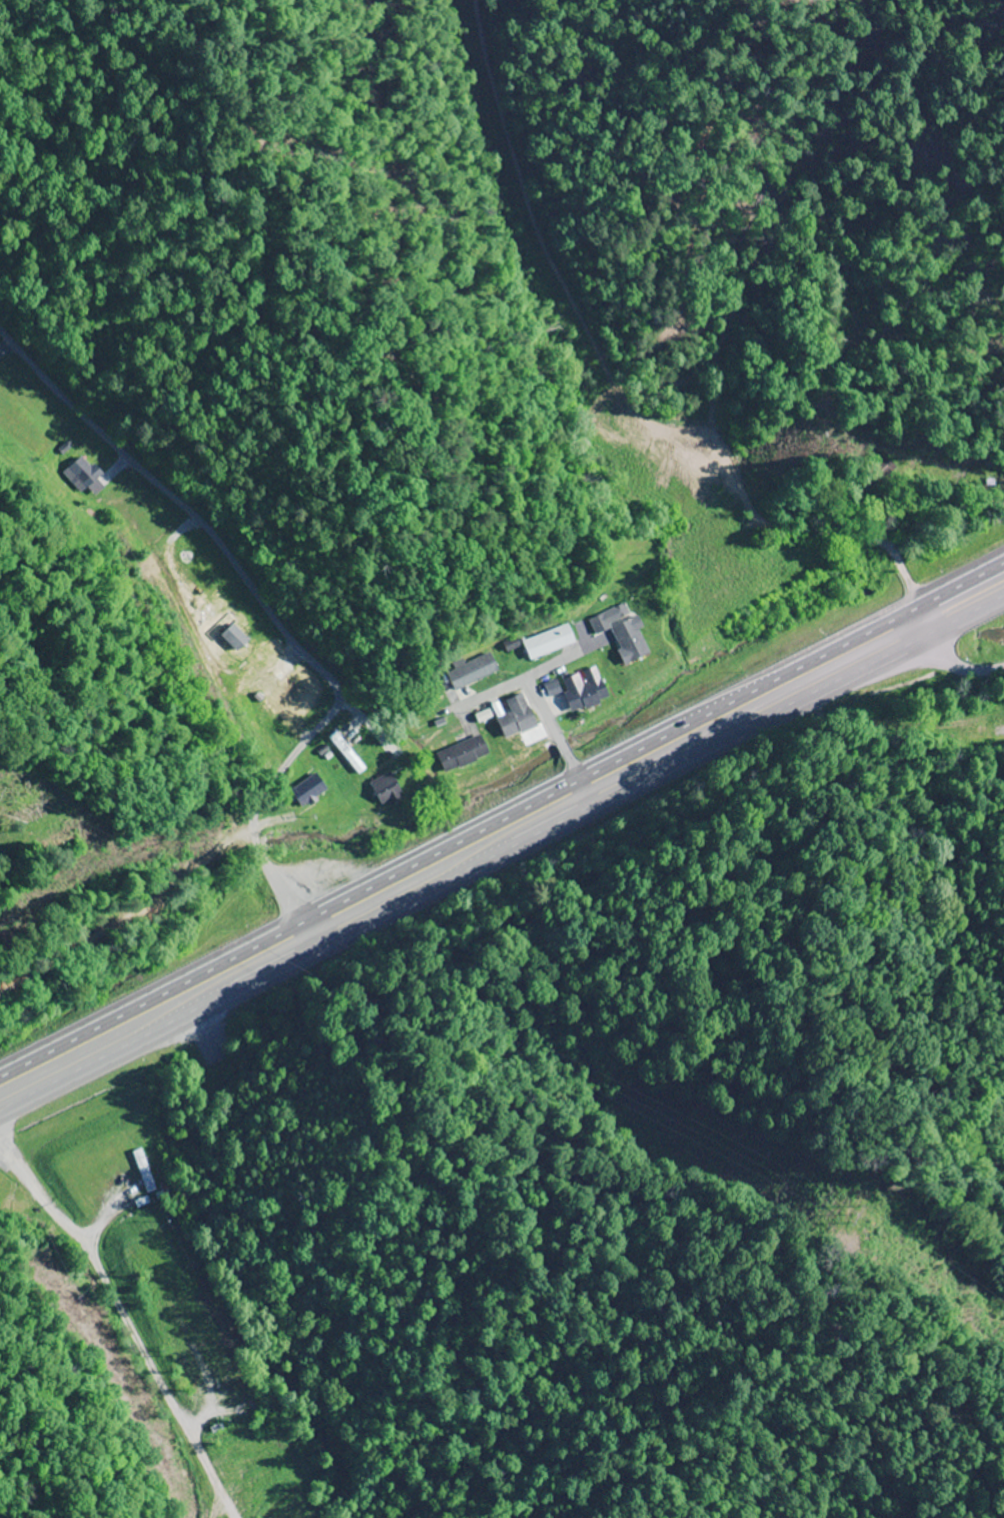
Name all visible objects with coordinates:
road: (275, 616)
building: (630, 641)
building: (549, 642)
road: (939, 657)
building: (473, 672)
building: (583, 689)
road: (533, 697)
building: (516, 718)
building: (999, 732)
building: (462, 754)
building: (385, 789)
building: (307, 790)
power tower: (9, 795)
road: (502, 816)
road: (501, 857)
building: (142, 1170)
power tower: (882, 1208)
road: (125, 1314)
building: (230, 1374)

